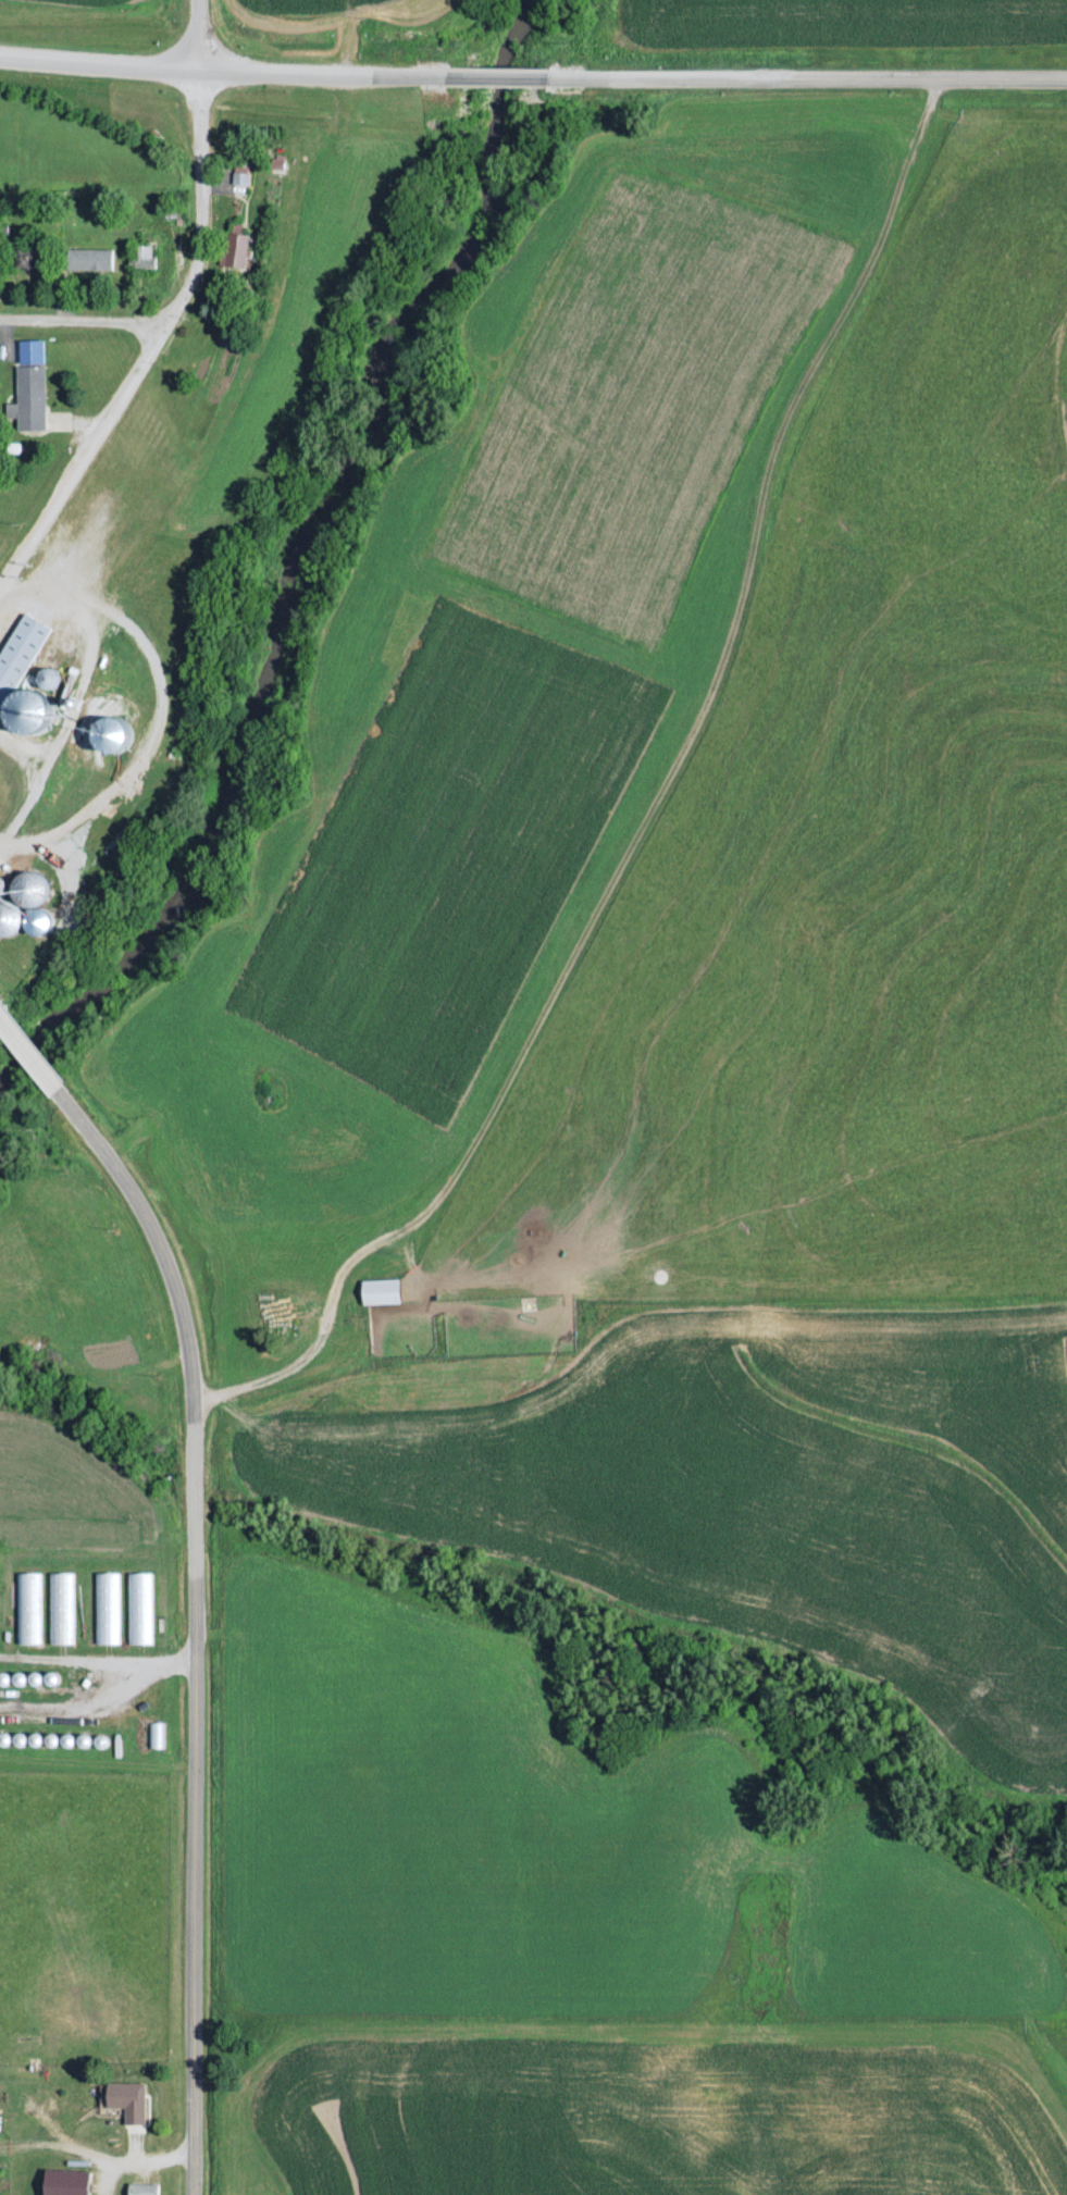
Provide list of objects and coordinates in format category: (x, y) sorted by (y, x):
road: (193, 34)
road: (221, 67)
road: (495, 75)
road: (806, 76)
road: (197, 182)
building: (235, 248)
building: (140, 255)
building: (90, 258)
road: (79, 319)
building: (29, 395)
road: (92, 438)
building: (17, 653)
building: (26, 888)
building: (7, 916)
road: (27, 1053)
building: (379, 1291)
building: (26, 1608)
building: (60, 1608)
building: (104, 1608)
building: (137, 1608)
road: (187, 1623)
building: (153, 1735)
building: (7, 2103)
building: (124, 2109)
building: (142, 2188)

